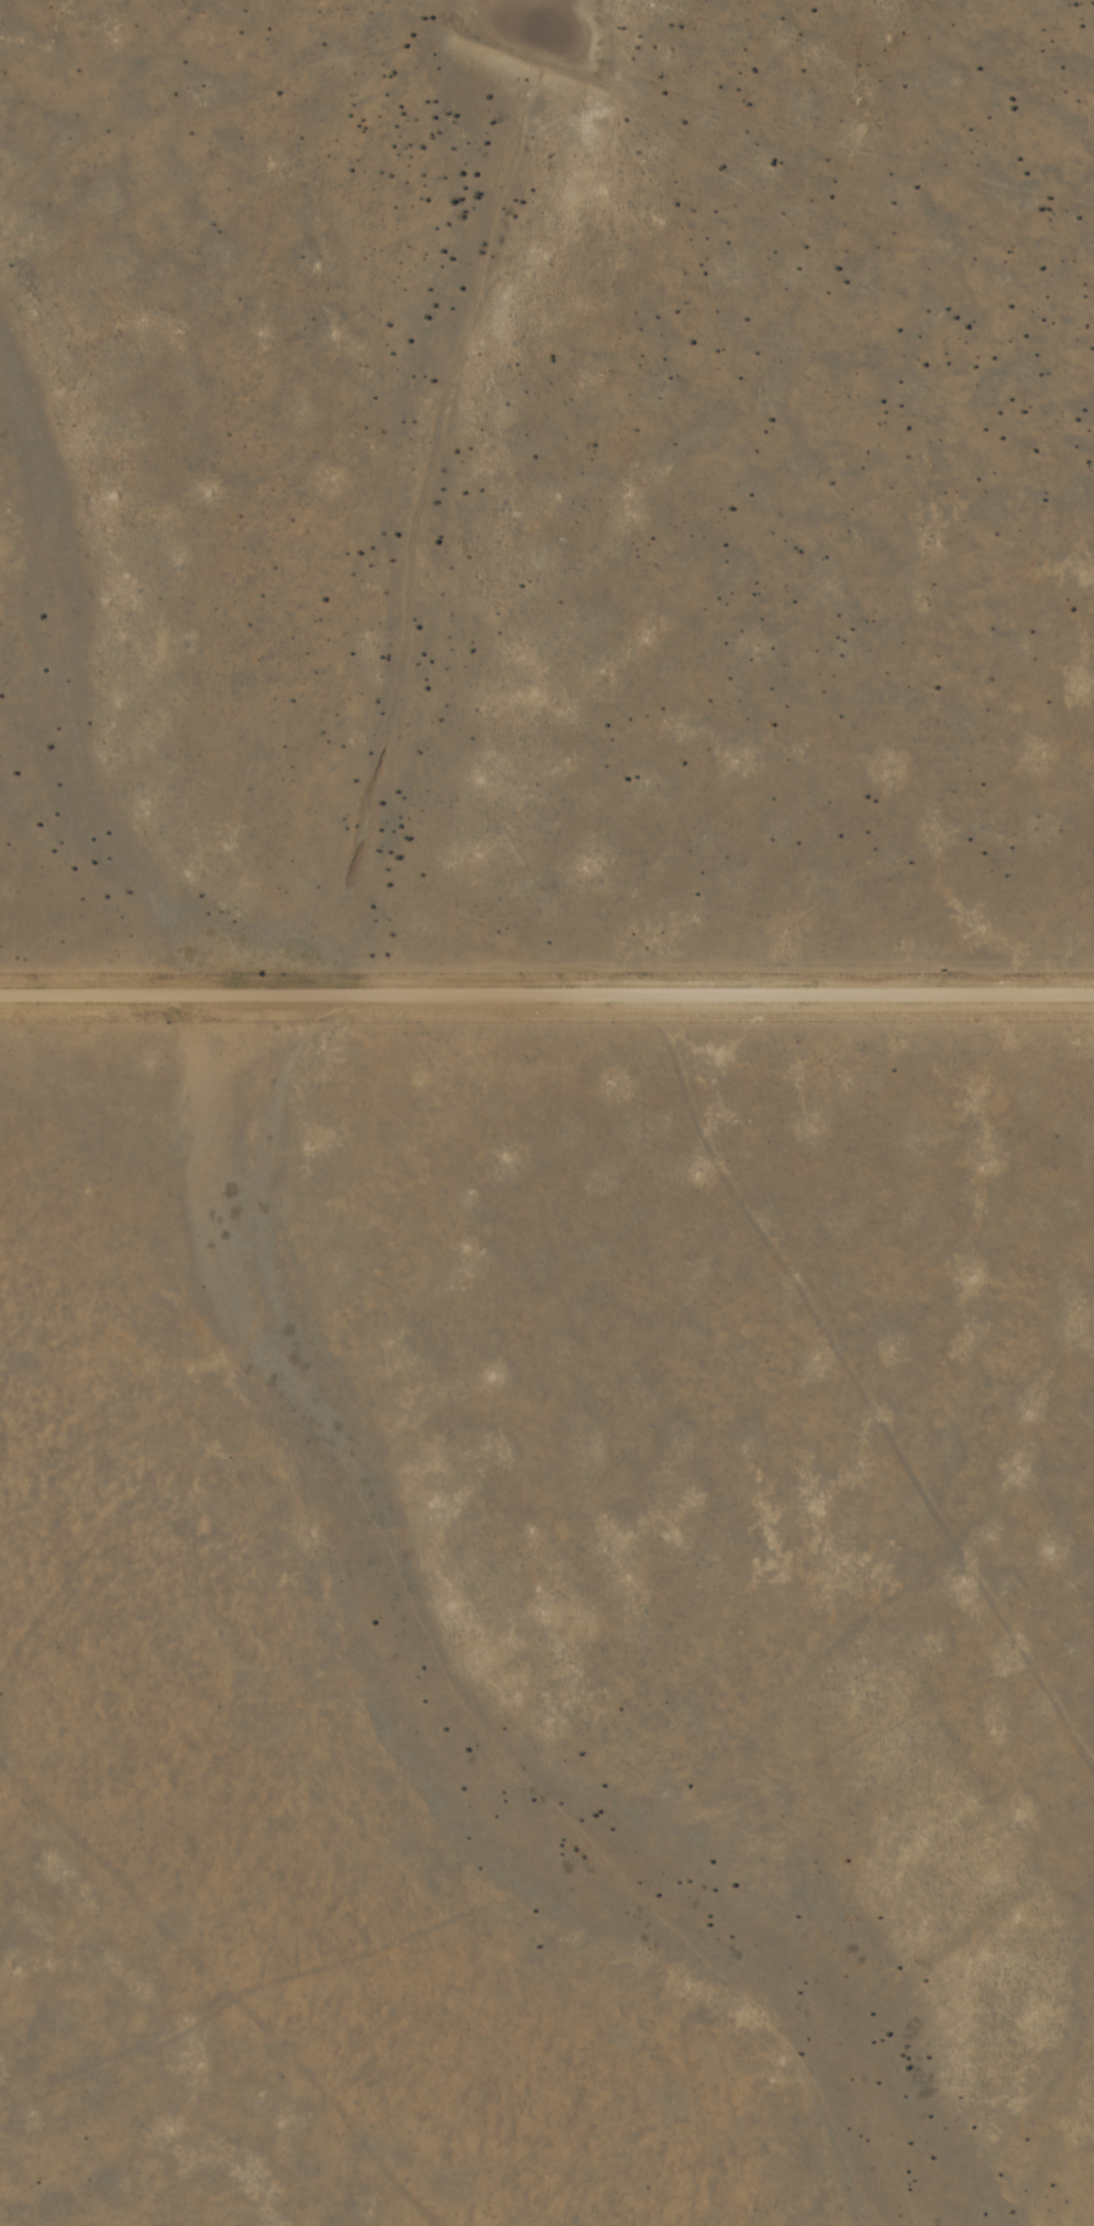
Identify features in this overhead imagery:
road: (546, 1004)

